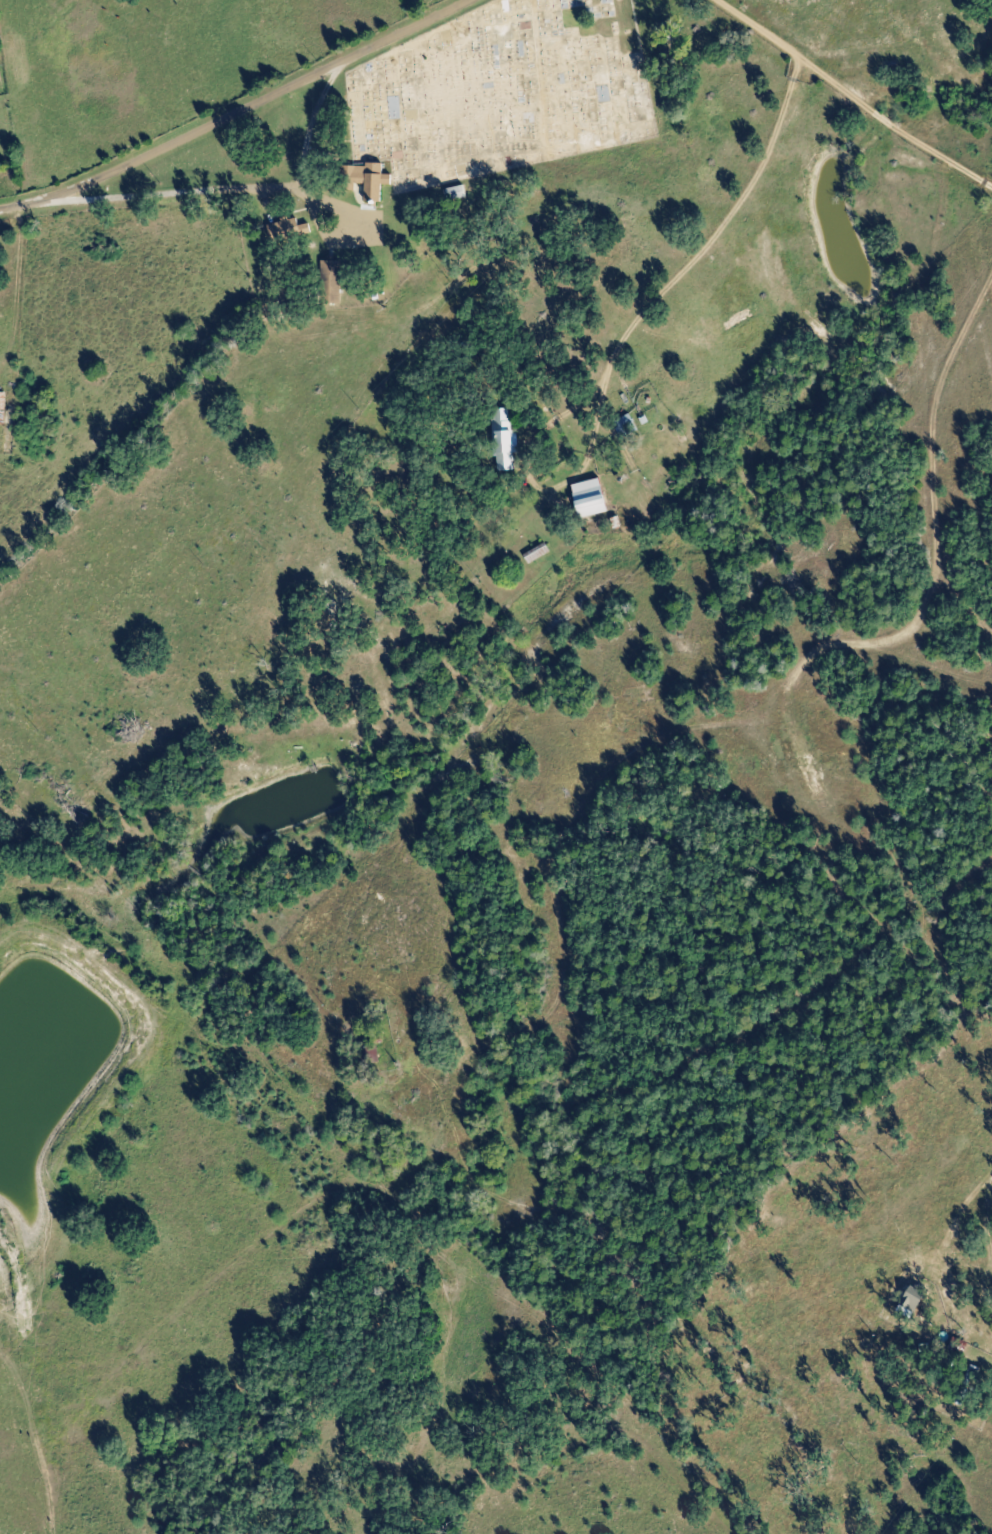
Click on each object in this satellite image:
park: (498, 95)
road: (236, 110)
building: (367, 179)
building: (287, 230)
building: (330, 282)
building: (2, 407)
building: (503, 441)
building: (589, 498)
building: (913, 1298)

